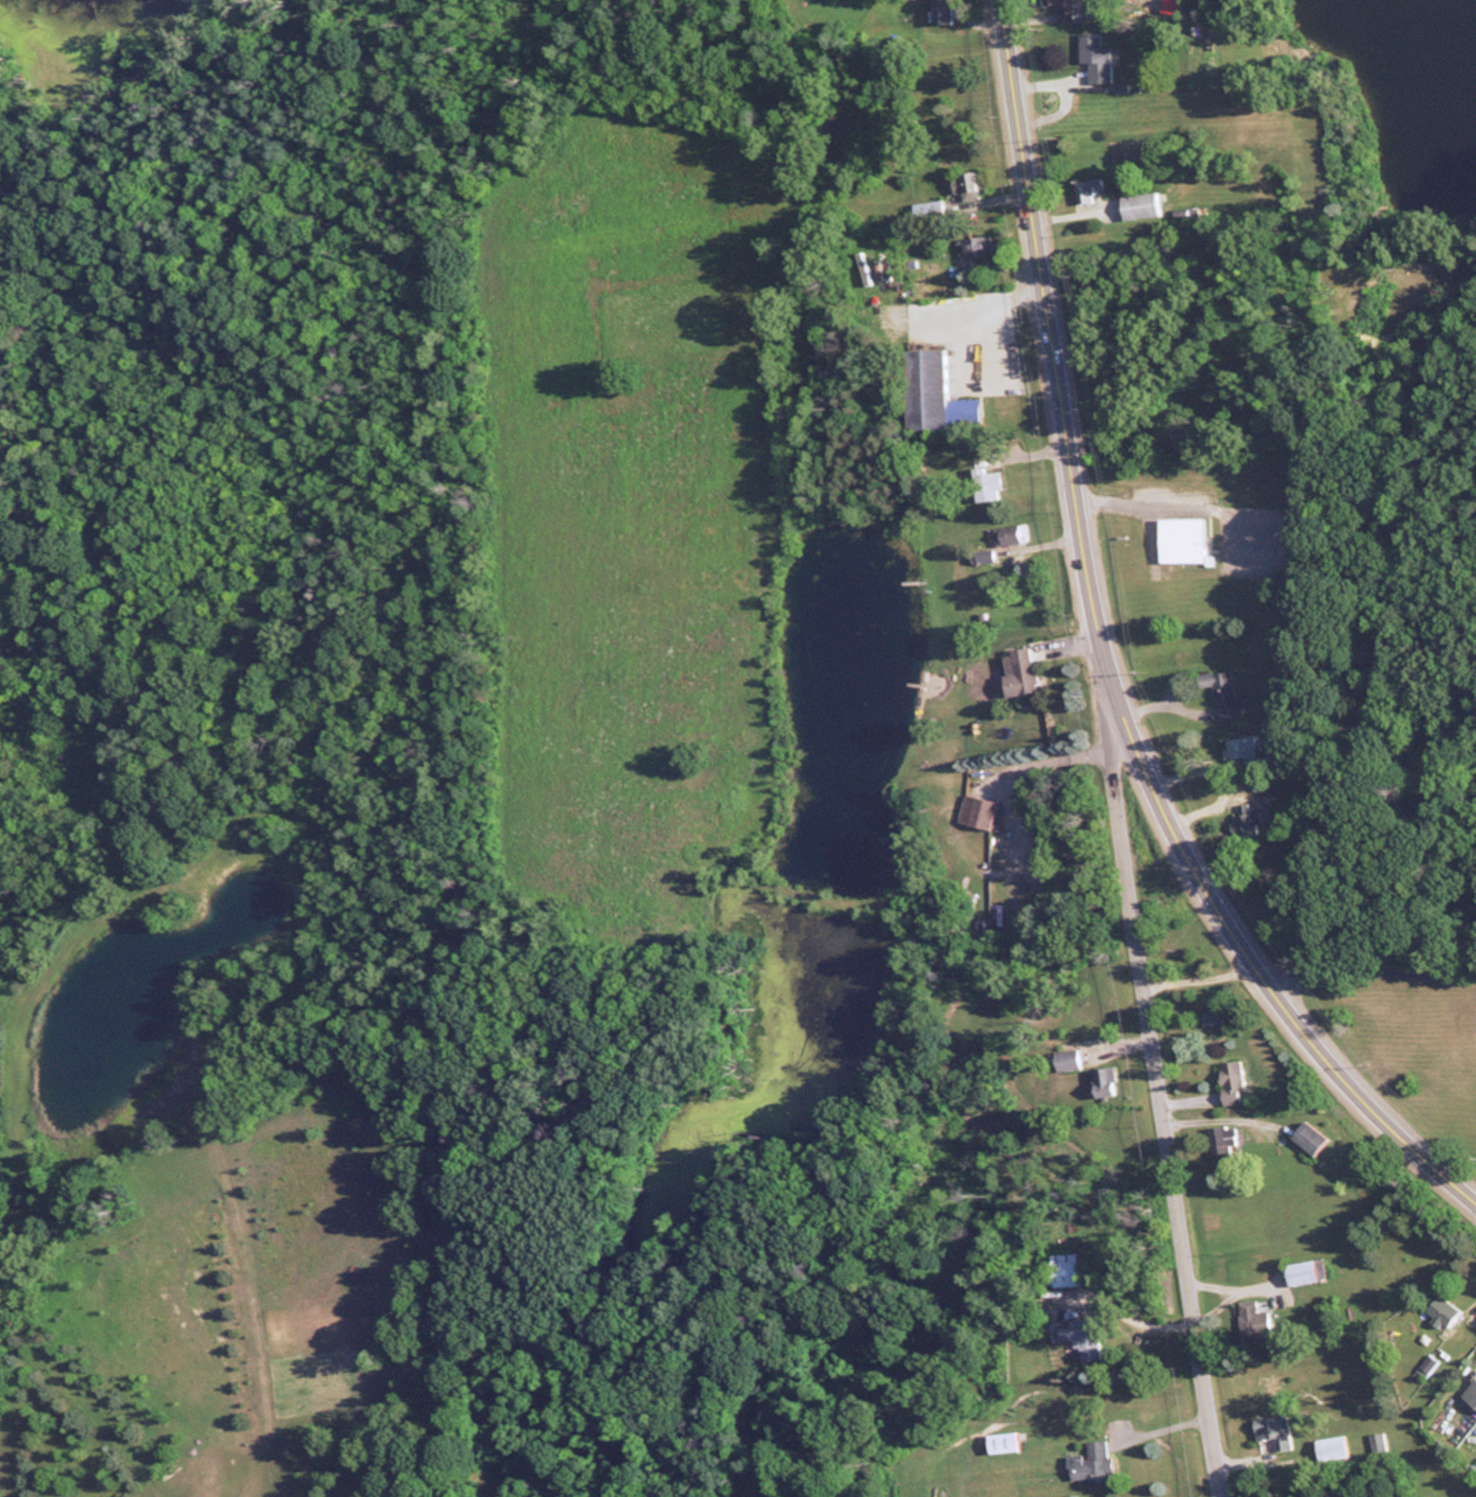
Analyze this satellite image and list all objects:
road: (995, 3)
building: (1061, 8)
building: (939, 11)
building: (1093, 56)
building: (964, 186)
building: (1086, 189)
building: (1138, 205)
building: (973, 246)
building: (924, 389)
building: (985, 484)
building: (1008, 534)
building: (1179, 539)
building: (981, 557)
road: (1104, 663)
building: (1017, 671)
building: (1222, 693)
building: (1238, 744)
building: (975, 810)
building: (1247, 817)
building: (1211, 1016)
park: (1411, 1025)
road: (1158, 1055)
building: (1064, 1058)
building: (1101, 1080)
building: (1229, 1081)
building: (1305, 1137)
building: (1219, 1142)
building: (1064, 1269)
building: (1297, 1271)
building: (1440, 1309)
building: (1251, 1320)
building: (1077, 1336)
building: (1469, 1393)
building: (1272, 1430)
building: (1375, 1441)
building: (1329, 1447)
building: (1089, 1464)

